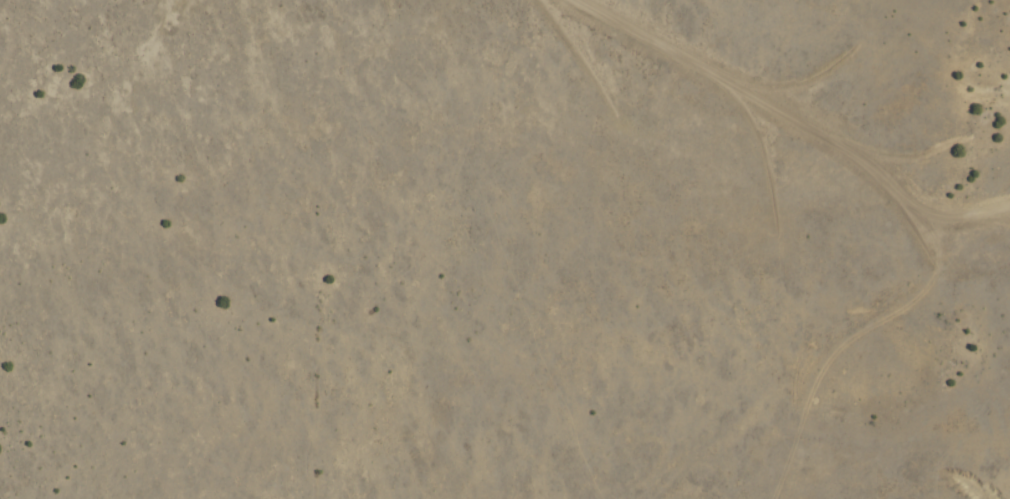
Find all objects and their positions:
road: (768, 121)

